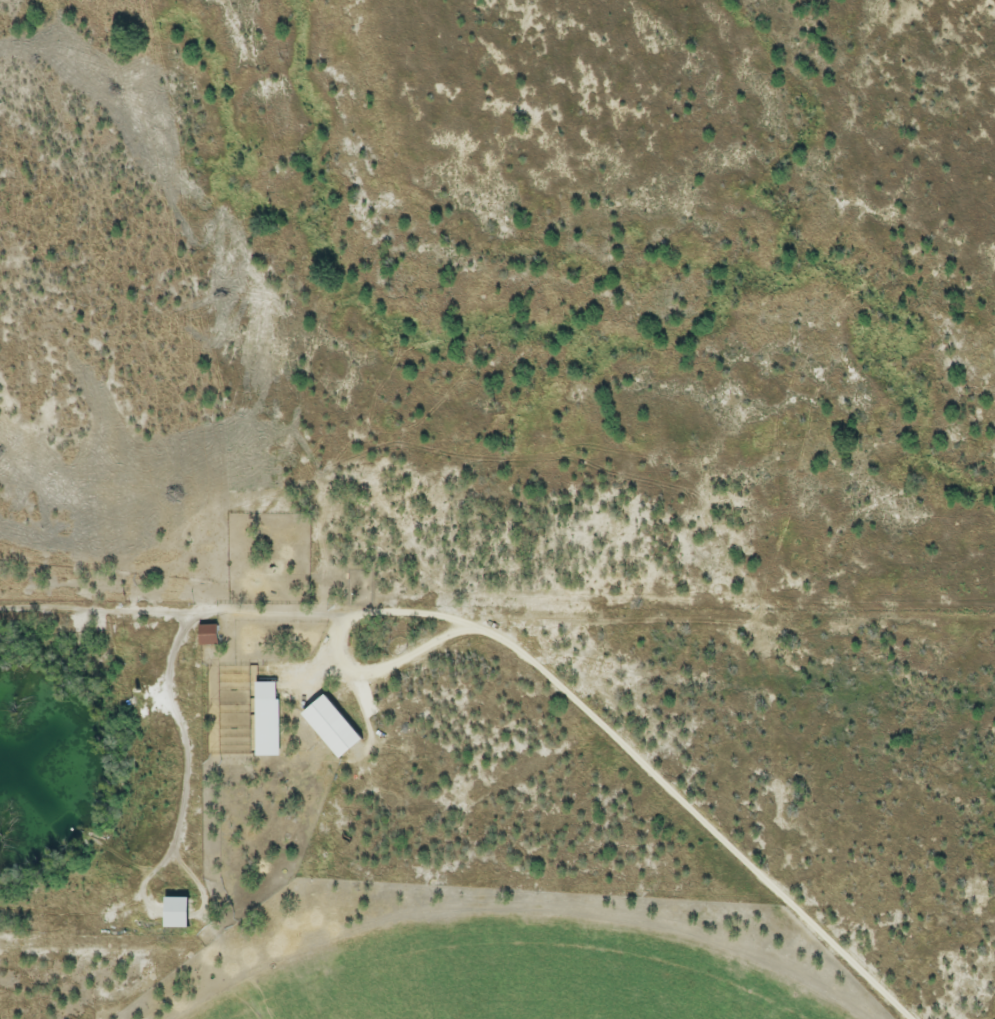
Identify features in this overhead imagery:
road: (337, 650)
road: (691, 822)
building: (160, 911)

